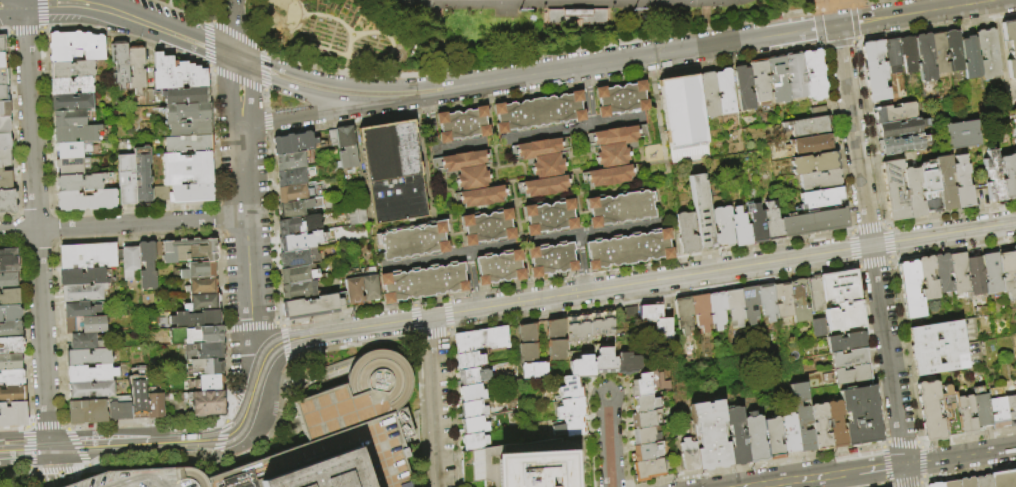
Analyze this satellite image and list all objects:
road: (823, 0)
road: (575, 1)
road: (813, 2)
road: (864, 2)
road: (158, 3)
road: (167, 3)
road: (421, 3)
stadium: (560, 3)
road: (703, 3)
road: (831, 3)
road: (824, 4)
road: (23, 7)
road: (829, 7)
road: (40, 13)
road: (187, 13)
road: (435, 13)
road: (575, 14)
building: (575, 16)
road: (208, 21)
road: (852, 22)
road: (121, 25)
road: (171, 25)
road: (703, 25)
road: (232, 26)
park: (455, 26)
road: (936, 26)
road: (279, 27)
road: (816, 28)
road: (4, 31)
road: (24, 31)
road: (234, 34)
road: (208, 39)
road: (627, 40)
road: (854, 41)
road: (733, 42)
building: (2, 43)
road: (574, 44)
road: (837, 44)
building: (1009, 44)
building: (75, 46)
road: (821, 46)
building: (954, 50)
building: (939, 52)
building: (908, 53)
building: (988, 53)
building: (891, 54)
building: (924, 57)
building: (970, 57)
building: (2, 60)
road: (208, 60)
road: (440, 63)
building: (120, 64)
road: (208, 66)
building: (72, 69)
building: (136, 69)
road: (211, 70)
road: (264, 71)
building: (875, 71)
building: (176, 73)
road: (347, 74)
building: (814, 74)
building: (795, 75)
building: (3, 76)
building: (778, 79)
road: (238, 80)
building: (760, 82)
building: (71, 85)
road: (352, 87)
building: (744, 87)
road: (543, 90)
building: (725, 90)
building: (3, 92)
road: (313, 93)
building: (709, 94)
building: (185, 95)
road: (433, 96)
road: (587, 96)
road: (264, 100)
building: (623, 100)
building: (72, 101)
road: (304, 102)
building: (4, 109)
building: (681, 110)
building: (187, 111)
building: (817, 111)
building: (894, 112)
road: (316, 113)
building: (540, 113)
building: (71, 117)
road: (266, 121)
building: (4, 125)
building: (464, 125)
building: (807, 125)
building: (189, 127)
building: (901, 128)
road: (13, 131)
building: (76, 133)
road: (868, 133)
building: (962, 133)
building: (618, 135)
road: (513, 137)
road: (836, 138)
building: (4, 141)
building: (293, 143)
building: (810, 143)
building: (187, 144)
building: (901, 144)
building: (345, 147)
building: (542, 148)
building: (72, 150)
building: (617, 154)
building: (1015, 157)
building: (5, 158)
building: (466, 159)
building: (290, 160)
building: (813, 162)
building: (72, 166)
building: (549, 166)
building: (186, 168)
building: (391, 171)
building: (141, 174)
building: (1008, 175)
building: (292, 176)
building: (611, 176)
building: (993, 176)
building: (472, 177)
building: (5, 179)
building: (126, 179)
building: (819, 179)
building: (79, 182)
building: (945, 182)
building: (961, 182)
building: (929, 185)
building: (546, 186)
building: (902, 191)
building: (183, 193)
building: (293, 193)
building: (482, 196)
building: (821, 197)
building: (86, 200)
building: (7, 201)
road: (200, 204)
road: (217, 206)
building: (293, 209)
building: (621, 209)
road: (245, 210)
road: (49, 211)
building: (702, 211)
road: (19, 212)
road: (34, 212)
road: (53, 214)
road: (951, 215)
building: (354, 216)
road: (13, 218)
building: (551, 218)
road: (217, 219)
building: (771, 222)
building: (813, 222)
road: (123, 224)
building: (298, 225)
building: (723, 225)
building: (756, 225)
road: (884, 225)
road: (53, 227)
building: (739, 227)
road: (865, 227)
road: (272, 228)
building: (489, 228)
road: (14, 230)
road: (36, 230)
road: (851, 230)
road: (850, 231)
road: (217, 232)
building: (686, 233)
road: (55, 240)
road: (89, 240)
building: (299, 241)
road: (15, 242)
building: (415, 242)
road: (889, 242)
road: (517, 244)
road: (34, 245)
road: (50, 245)
road: (21, 246)
road: (853, 247)
road: (953, 248)
building: (629, 249)
building: (185, 250)
building: (86, 256)
building: (118, 256)
road: (872, 256)
building: (1013, 256)
building: (300, 258)
building: (552, 259)
building: (8, 260)
road: (889, 260)
building: (129, 261)
road: (581, 263)
road: (855, 264)
road: (872, 264)
building: (146, 265)
road: (857, 267)
building: (500, 268)
building: (197, 270)
building: (989, 271)
building: (940, 272)
building: (1006, 272)
building: (957, 273)
building: (297, 275)
road: (565, 275)
building: (973, 275)
building: (82, 276)
building: (925, 277)
railway: (636, 279)
road: (471, 280)
building: (8, 281)
building: (424, 282)
road: (633, 283)
building: (200, 286)
railway: (640, 286)
building: (369, 288)
building: (908, 289)
building: (298, 291)
building: (354, 291)
building: (82, 292)
building: (816, 293)
building: (9, 297)
railway: (546, 298)
building: (343, 299)
road: (654, 300)
building: (766, 300)
building: (783, 300)
building: (799, 300)
building: (842, 301)
building: (201, 303)
building: (750, 304)
building: (310, 306)
building: (735, 308)
building: (717, 309)
building: (80, 310)
building: (701, 311)
building: (10, 312)
road: (450, 313)
building: (684, 315)
road: (416, 317)
building: (194, 319)
building: (656, 319)
road: (278, 322)
road: (23, 324)
road: (250, 324)
road: (281, 324)
building: (84, 325)
road: (224, 325)
building: (590, 326)
building: (818, 327)
building: (10, 329)
road: (435, 333)
building: (195, 335)
building: (481, 339)
building: (557, 339)
building: (83, 342)
building: (847, 342)
road: (284, 343)
building: (529, 343)
building: (10, 345)
building: (937, 347)
building: (203, 351)
road: (903, 352)
road: (870, 354)
building: (87, 357)
building: (602, 357)
building: (850, 358)
building: (470, 359)
building: (10, 361)
road: (289, 362)
building: (625, 363)
building: (580, 365)
building: (207, 366)
building: (535, 370)
road: (225, 372)
building: (90, 373)
building: (471, 375)
road: (604, 375)
building: (853, 375)
building: (11, 377)
building: (210, 382)
road: (298, 384)
road: (350, 384)
building: (648, 384)
building: (569, 387)
road: (314, 388)
building: (90, 389)
building: (137, 393)
building: (471, 393)
building: (11, 394)
road: (437, 401)
building: (206, 403)
building: (642, 403)
road: (248, 405)
building: (154, 406)
building: (981, 407)
building: (569, 408)
building: (473, 409)
building: (1011, 409)
building: (929, 410)
building: (85, 411)
building: (118, 412)
building: (949, 412)
building: (998, 412)
building: (860, 414)
building: (12, 415)
building: (965, 415)
building: (801, 417)
building: (645, 418)
road: (225, 420)
road: (146, 423)
road: (27, 424)
road: (45, 424)
road: (63, 424)
building: (835, 424)
road: (275, 425)
building: (474, 425)
building: (349, 426)
building: (818, 426)
road: (13, 427)
building: (569, 427)
road: (67, 428)
building: (788, 433)
building: (645, 435)
building: (709, 435)
building: (735, 435)
road: (968, 436)
road: (222, 437)
building: (753, 437)
railway: (156, 438)
building: (772, 438)
railway: (6, 440)
building: (474, 440)
road: (17, 441)
road: (608, 441)
road: (901, 442)
road: (883, 443)
road: (919, 443)
road: (111, 444)
road: (27, 447)
road: (77, 447)
railway: (162, 447)
railway: (182, 449)
road: (196, 451)
parking lot: (374, 451)
building: (647, 451)
building: (688, 454)
road: (960, 456)
road: (221, 457)
road: (381, 458)
road: (920, 461)
road: (760, 463)
road: (884, 464)
road: (88, 466)
road: (48, 467)
road: (881, 468)
road: (29, 469)
road: (85, 469)
building: (530, 469)
building: (647, 469)
road: (57, 470)
road: (206, 470)
road: (14, 472)
road: (31, 472)
road: (967, 472)
building: (324, 473)
road: (922, 478)
building: (1003, 478)
building: (147, 479)
parking lot: (147, 479)
road: (799, 479)
building: (982, 481)
building: (966, 482)
road: (921, 483)
road: (888, 484)
road: (908, 484)
building: (951, 484)
building: (934, 485)
road: (881, 486)

